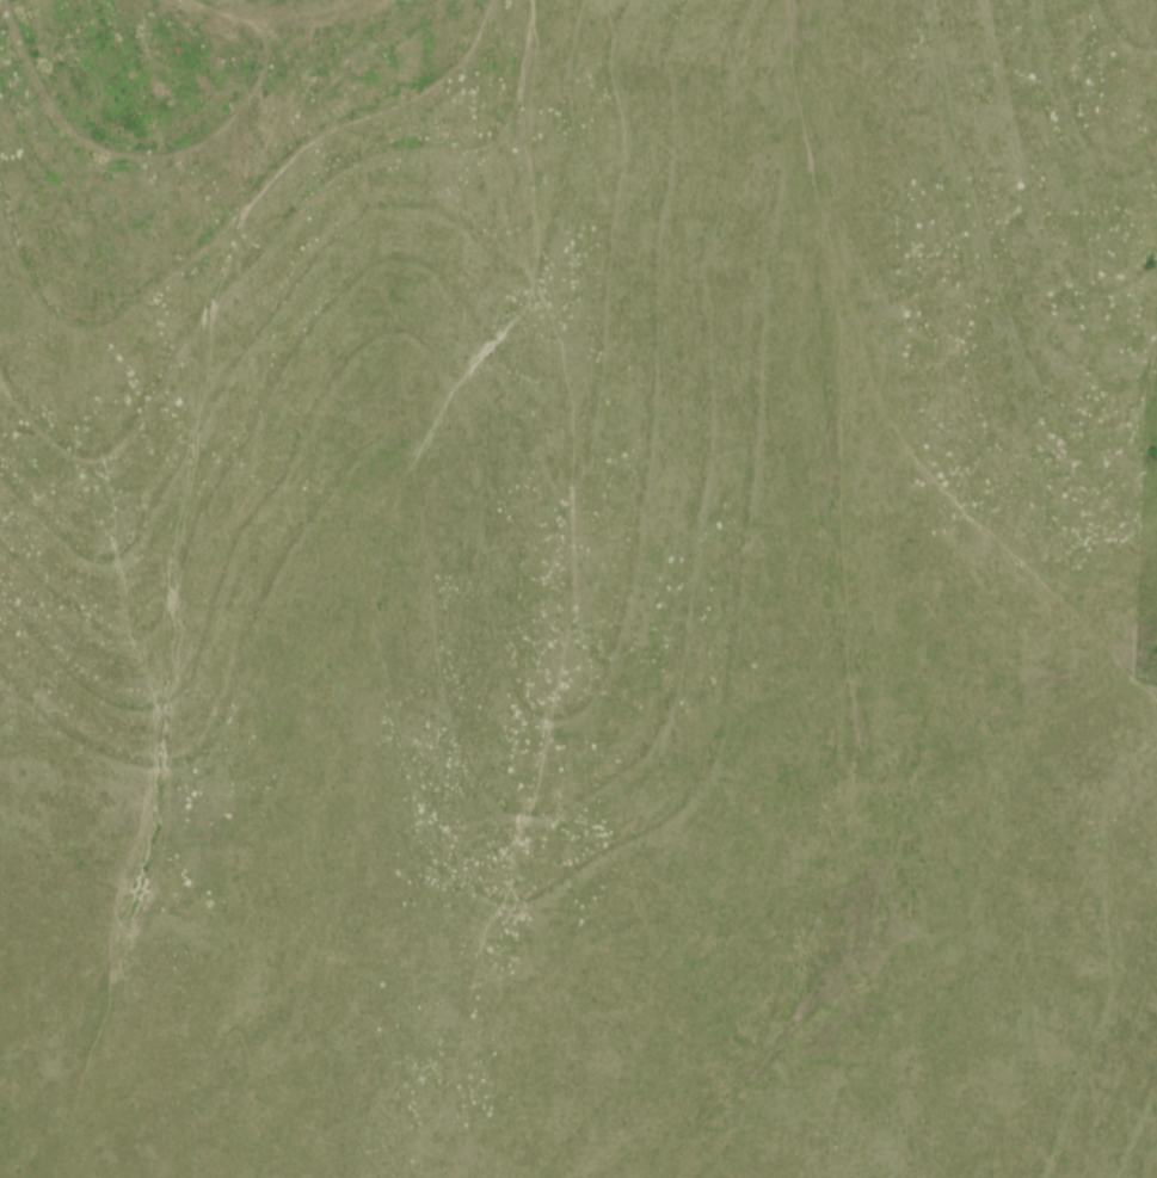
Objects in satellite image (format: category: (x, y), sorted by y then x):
road: (291, 20)

